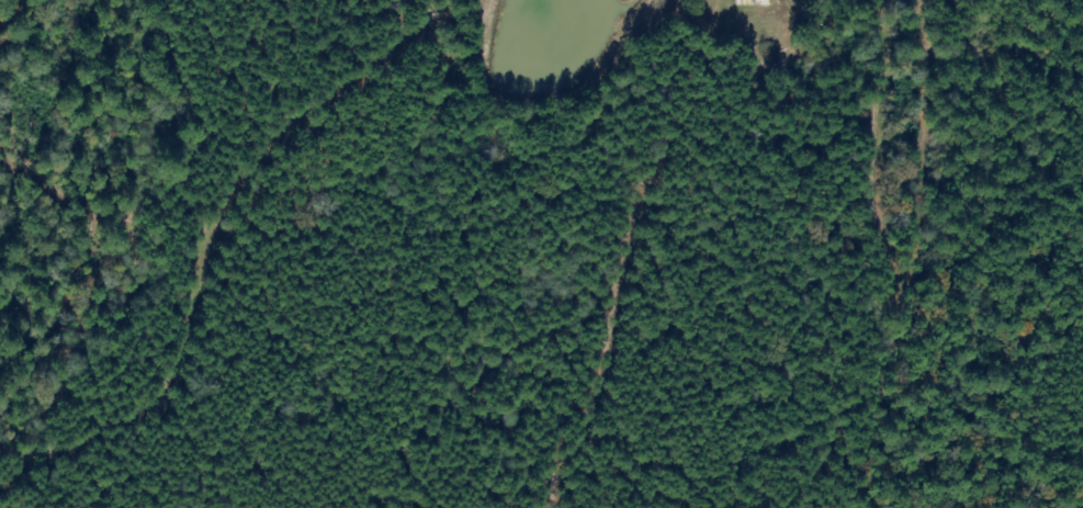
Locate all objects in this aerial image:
building: (743, 0)

